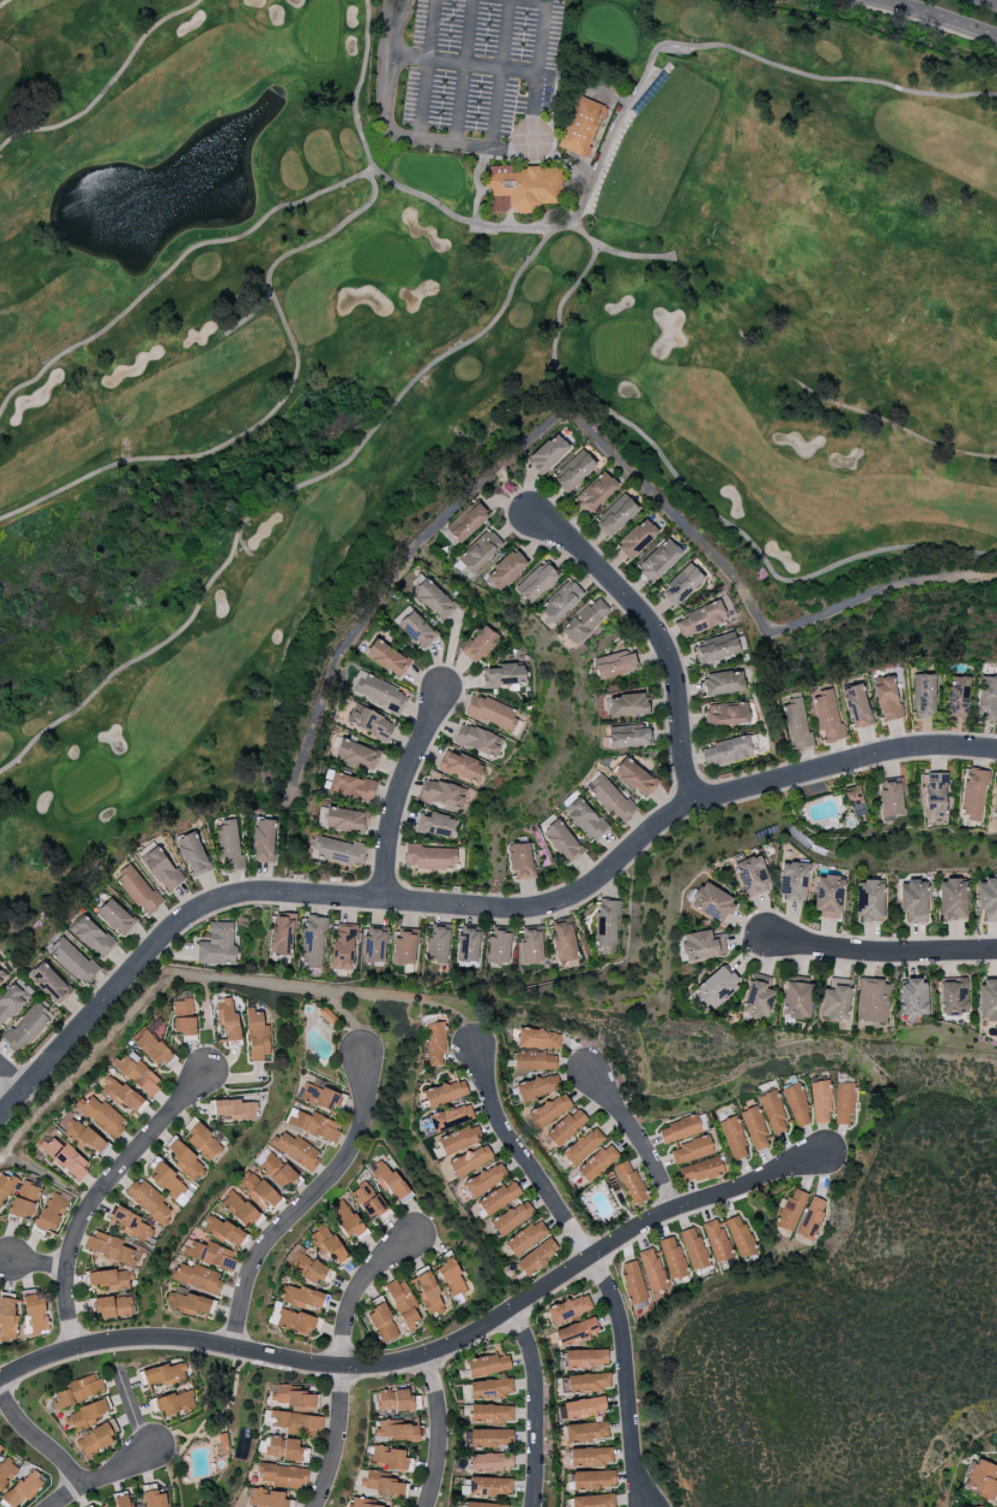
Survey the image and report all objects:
road: (536, 1)
road: (988, 2)
road: (938, 16)
road: (466, 64)
road: (424, 69)
road: (462, 71)
road: (499, 74)
road: (536, 77)
building: (581, 126)
road: (396, 130)
building: (522, 189)
park: (462, 345)
building: (548, 454)
building: (574, 472)
building: (595, 493)
building: (615, 515)
building: (466, 522)
building: (636, 539)
building: (479, 552)
building: (659, 560)
building: (505, 570)
building: (536, 583)
building: (682, 585)
building: (434, 599)
building: (559, 601)
building: (701, 619)
building: (582, 622)
road: (652, 628)
building: (417, 630)
building: (480, 645)
building: (719, 647)
building: (609, 657)
building: (387, 658)
building: (616, 668)
building: (505, 676)
building: (723, 683)
building: (378, 692)
building: (923, 695)
building: (958, 697)
building: (887, 698)
building: (987, 698)
building: (628, 705)
building: (856, 706)
building: (491, 713)
building: (727, 715)
building: (828, 717)
building: (372, 724)
building: (796, 726)
building: (629, 736)
building: (478, 741)
building: (729, 751)
building: (356, 755)
building: (461, 766)
building: (634, 777)
building: (352, 787)
road: (397, 789)
building: (442, 794)
building: (935, 795)
building: (973, 795)
building: (891, 797)
building: (610, 799)
building: (854, 799)
building: (995, 806)
building: (584, 819)
building: (346, 820)
building: (436, 825)
building: (263, 841)
building: (562, 841)
building: (228, 844)
building: (336, 851)
building: (193, 855)
building: (430, 857)
building: (520, 861)
building: (162, 869)
building: (753, 876)
building: (792, 882)
building: (138, 890)
building: (828, 897)
building: (987, 899)
building: (952, 900)
building: (869, 901)
building: (913, 901)
building: (713, 903)
road: (475, 904)
building: (116, 916)
building: (606, 924)
building: (282, 935)
building: (92, 936)
building: (564, 941)
building: (313, 943)
building: (437, 944)
building: (217, 945)
building: (375, 946)
building: (467, 946)
building: (499, 946)
building: (702, 946)
building: (531, 947)
building: (342, 948)
building: (405, 948)
road: (883, 952)
building: (72, 960)
building: (2, 977)
road: (209, 977)
building: (49, 983)
building: (717, 987)
building: (757, 997)
building: (913, 997)
building: (835, 999)
building: (13, 1000)
building: (796, 1000)
building: (872, 1001)
building: (987, 1001)
building: (182, 1014)
road: (349, 1020)
building: (228, 1021)
road: (208, 1023)
building: (28, 1026)
building: (258, 1037)
building: (538, 1039)
building: (435, 1044)
building: (152, 1048)
building: (534, 1061)
building: (137, 1073)
road: (9, 1078)
building: (537, 1087)
building: (445, 1093)
building: (121, 1095)
building: (319, 1097)
building: (820, 1102)
building: (844, 1103)
building: (797, 1106)
building: (233, 1109)
building: (549, 1110)
building: (773, 1112)
building: (102, 1115)
building: (451, 1117)
building: (313, 1125)
building: (566, 1127)
building: (755, 1128)
building: (680, 1130)
building: (81, 1134)
road: (638, 1135)
building: (733, 1138)
building: (458, 1140)
building: (202, 1141)
building: (583, 1146)
building: (691, 1150)
building: (297, 1151)
building: (65, 1158)
building: (185, 1160)
building: (469, 1160)
building: (597, 1163)
building: (277, 1171)
building: (700, 1171)
road: (47, 1176)
building: (166, 1179)
building: (485, 1180)
building: (630, 1183)
building: (6, 1187)
building: (258, 1192)
road: (98, 1193)
building: (183, 1197)
building: (499, 1198)
building: (25, 1200)
building: (149, 1201)
building: (367, 1201)
road: (304, 1202)
building: (238, 1209)
building: (791, 1211)
building: (51, 1213)
building: (512, 1218)
building: (344, 1219)
building: (811, 1221)
building: (131, 1225)
building: (222, 1231)
building: (740, 1236)
building: (526, 1238)
building: (717, 1241)
building: (329, 1246)
building: (110, 1248)
building: (694, 1250)
building: (209, 1254)
road: (4, 1256)
building: (537, 1257)
building: (672, 1258)
road: (37, 1263)
building: (303, 1264)
road: (594, 1264)
building: (652, 1269)
building: (197, 1278)
building: (452, 1279)
building: (108, 1280)
building: (633, 1283)
building: (429, 1295)
building: (302, 1297)
building: (187, 1303)
building: (403, 1304)
building: (111, 1307)
building: (569, 1309)
building: (36, 1314)
building: (7, 1318)
building: (294, 1322)
building: (382, 1323)
building: (575, 1332)
road: (431, 1353)
road: (342, 1358)
building: (586, 1358)
road: (232, 1359)
building: (487, 1365)
building: (162, 1375)
building: (588, 1383)
building: (490, 1389)
building: (77, 1391)
building: (290, 1397)
building: (392, 1400)
building: (173, 1403)
road: (537, 1405)
building: (584, 1409)
road: (131, 1410)
building: (490, 1414)
building: (86, 1415)
road: (216, 1419)
building: (297, 1423)
building: (398, 1431)
road: (437, 1431)
building: (586, 1432)
building: (491, 1438)
road: (39, 1439)
building: (95, 1439)
building: (223, 1442)
building: (284, 1449)
building: (0, 1450)
building: (388, 1457)
building: (590, 1457)
building: (490, 1463)
building: (6, 1472)
road: (103, 1474)
building: (282, 1475)
building: (593, 1480)
building: (983, 1480)
building: (381, 1484)
building: (487, 1487)
building: (24, 1489)
building: (265, 1498)
building: (156, 1499)
building: (123, 1501)
building: (593, 1501)
building: (358, 1503)
building: (485, 1505)

